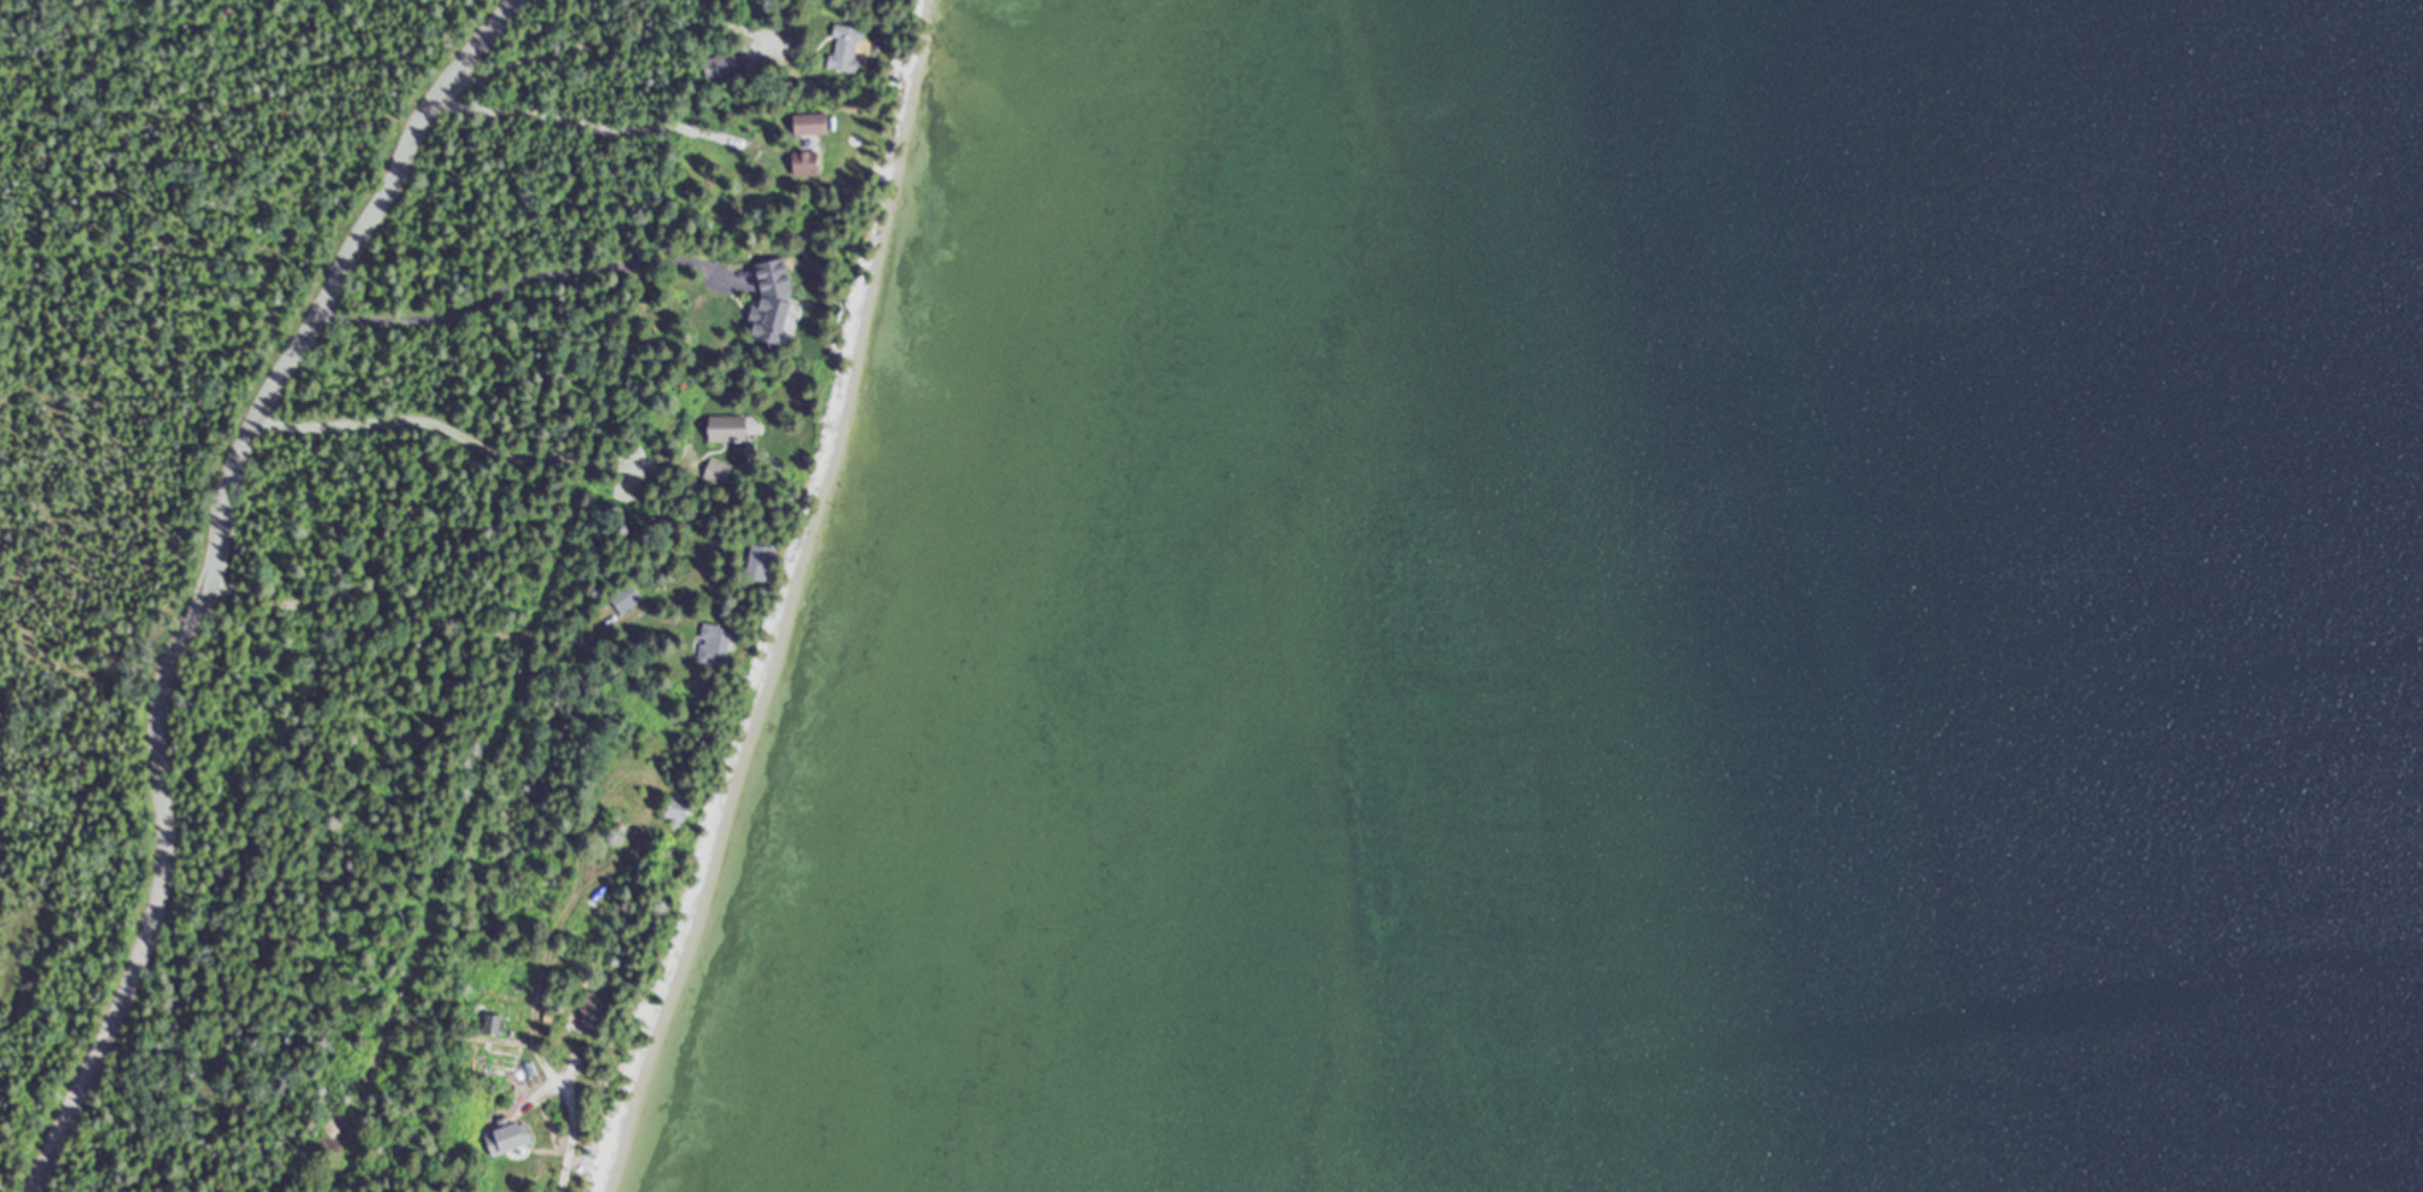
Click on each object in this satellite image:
building: (847, 48)
building: (722, 66)
building: (813, 124)
building: (807, 164)
building: (773, 301)
building: (731, 428)
road: (412, 466)
building: (717, 472)
road: (391, 508)
road: (380, 553)
building: (762, 563)
road: (211, 575)
building: (627, 597)
building: (716, 644)
building: (679, 810)
road: (157, 979)
building: (489, 1022)
road: (359, 1110)
road: (571, 1136)

